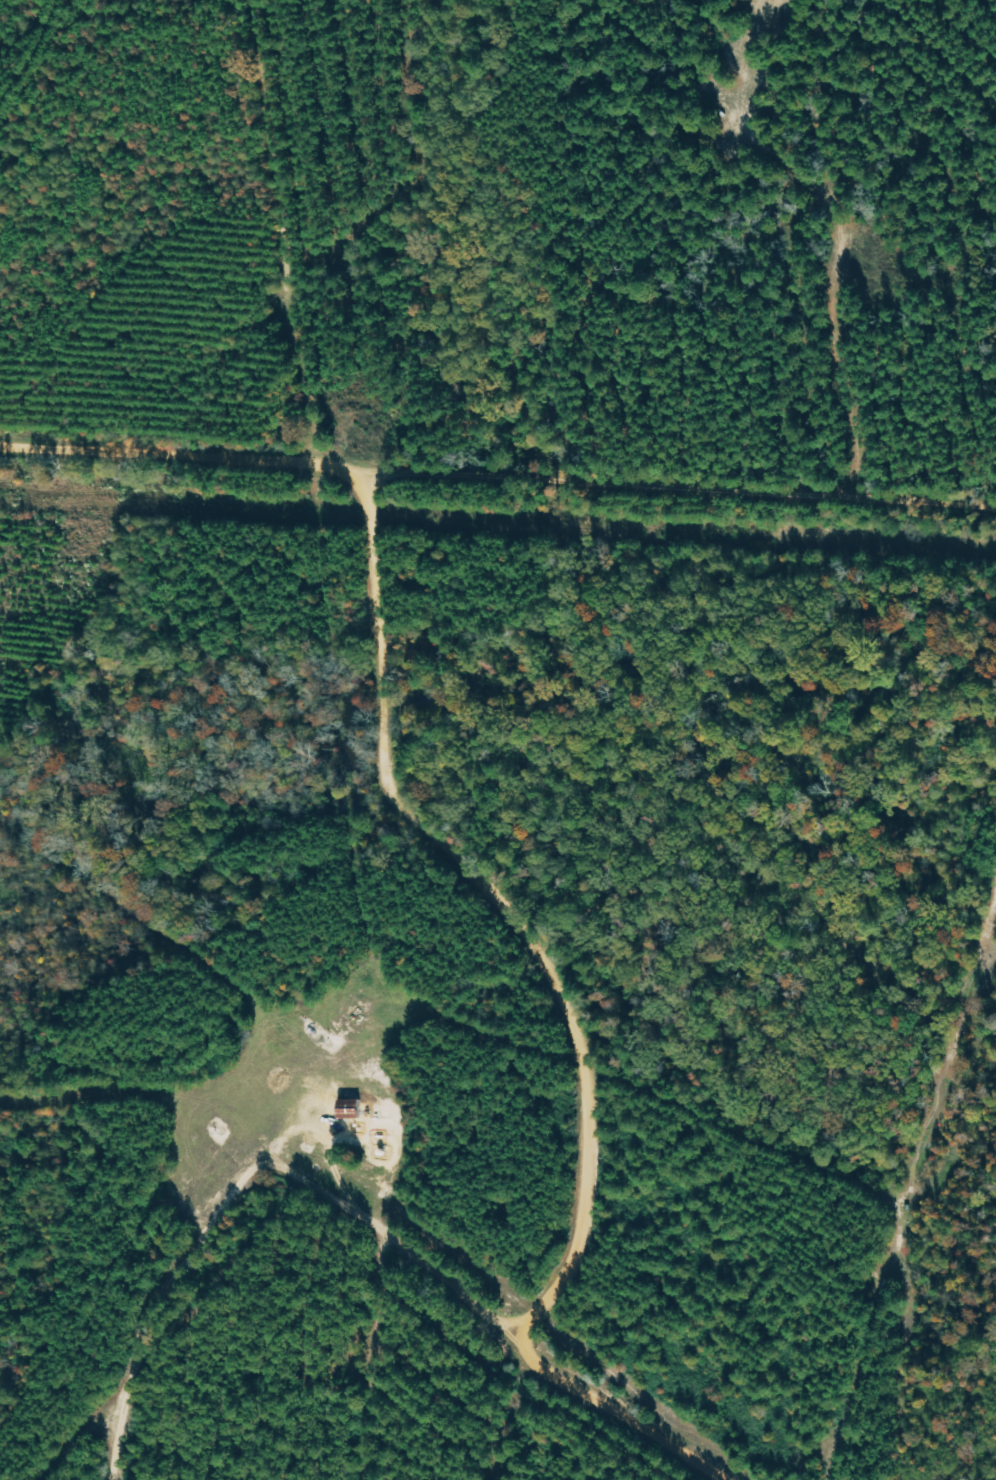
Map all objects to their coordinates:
road: (498, 471)
building: (346, 1107)
road: (353, 1207)

